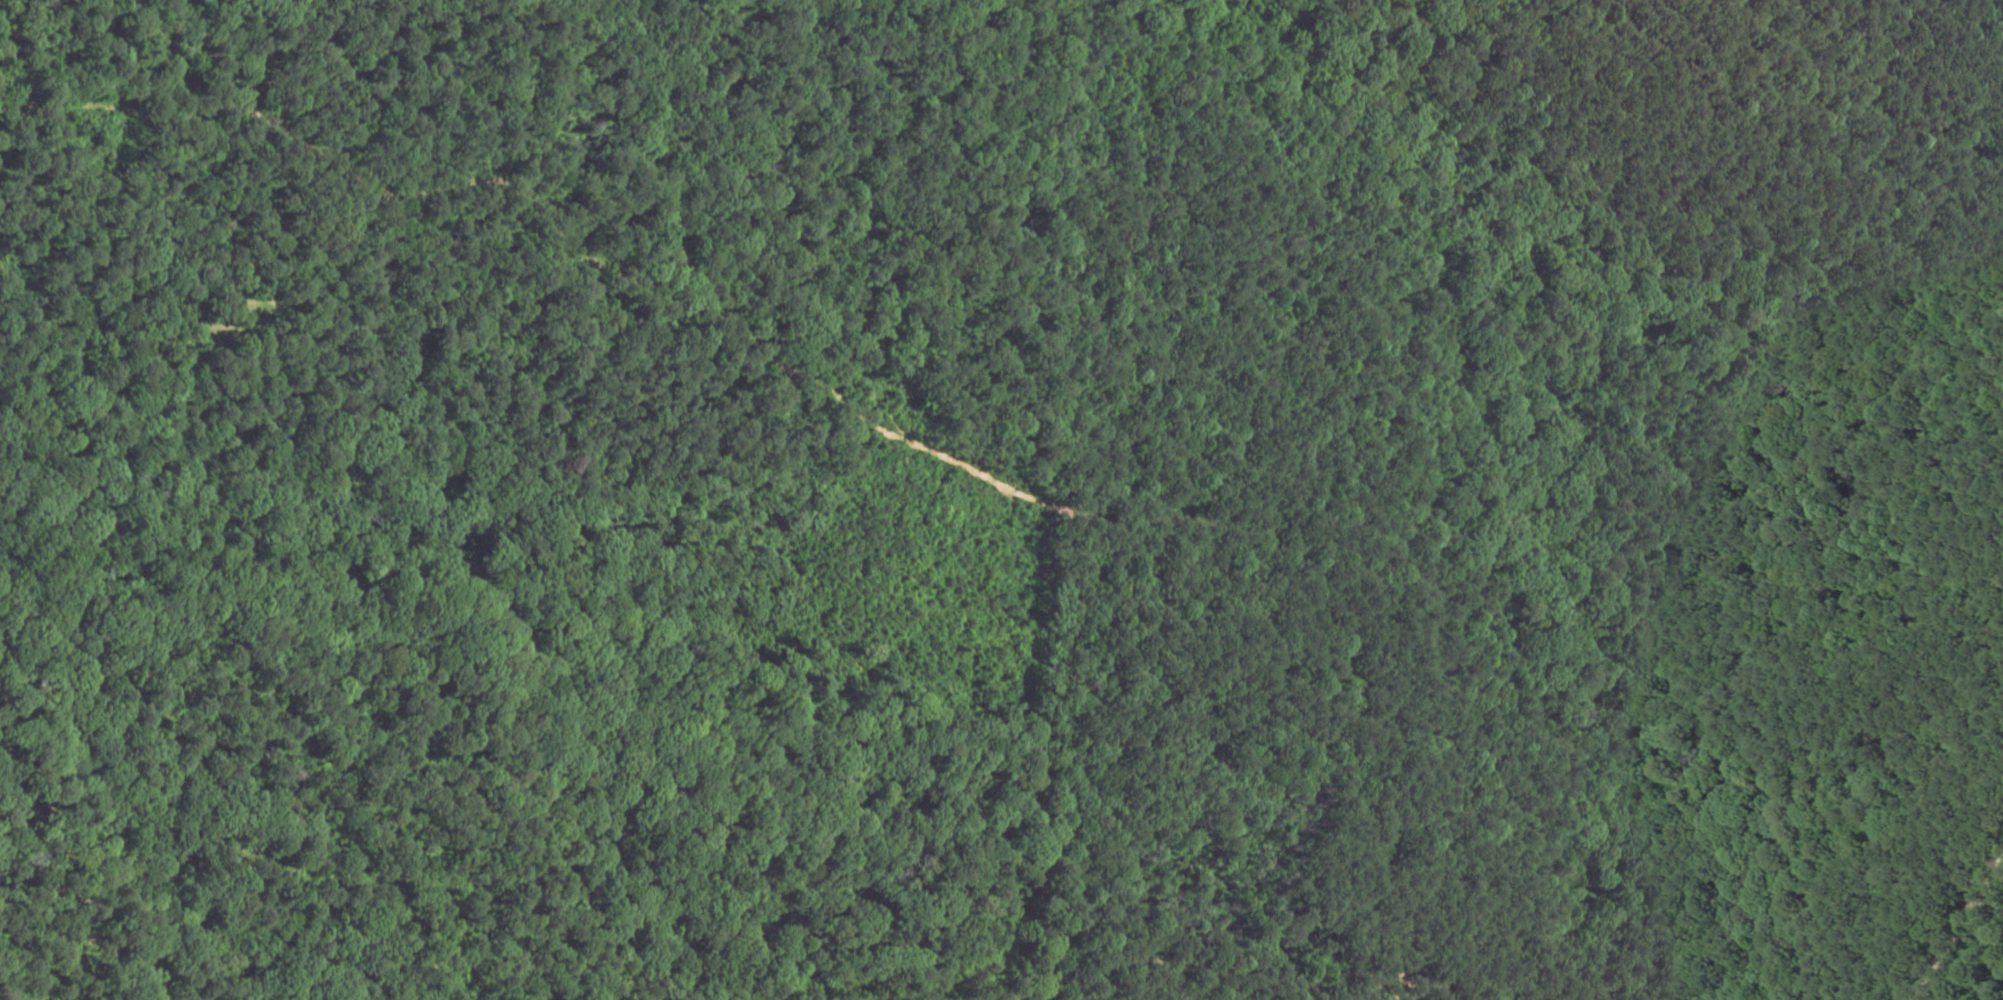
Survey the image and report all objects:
road: (1968, 936)

